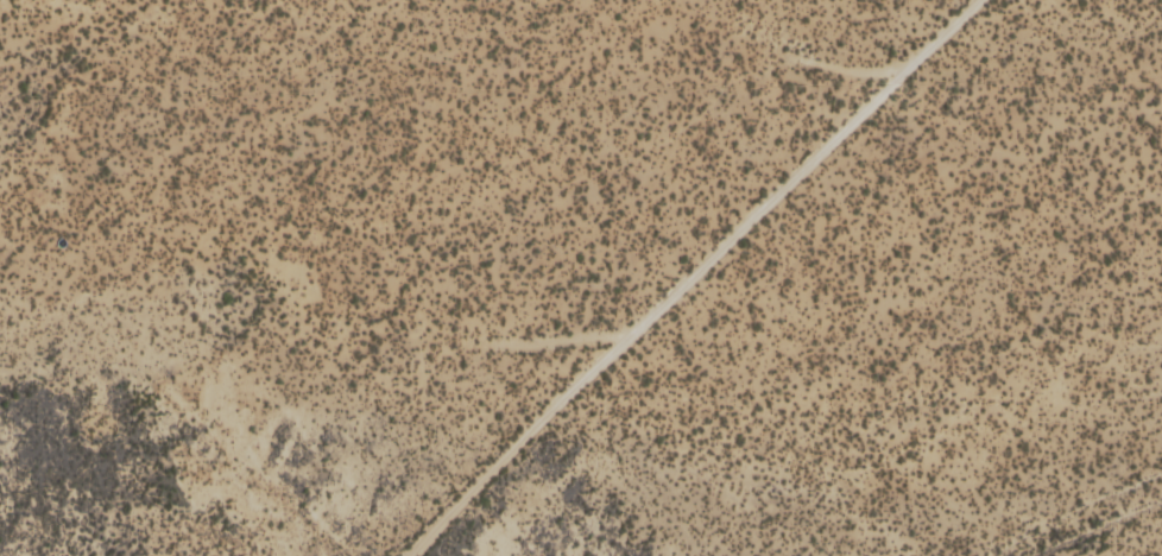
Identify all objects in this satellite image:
building: (169, 126)
building: (1018, 135)

